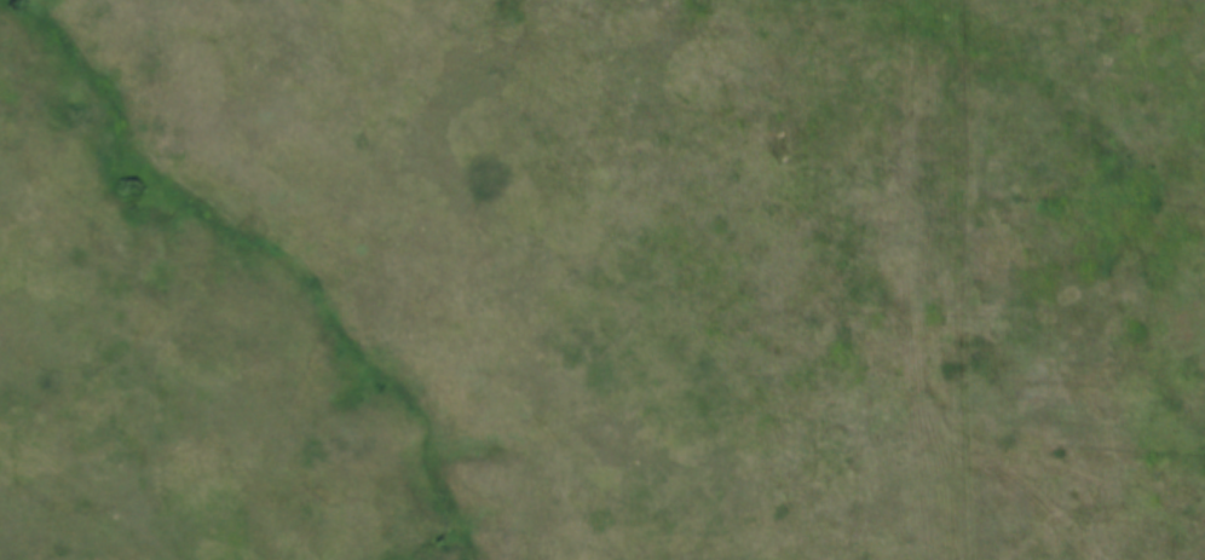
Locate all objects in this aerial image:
road: (912, 282)

